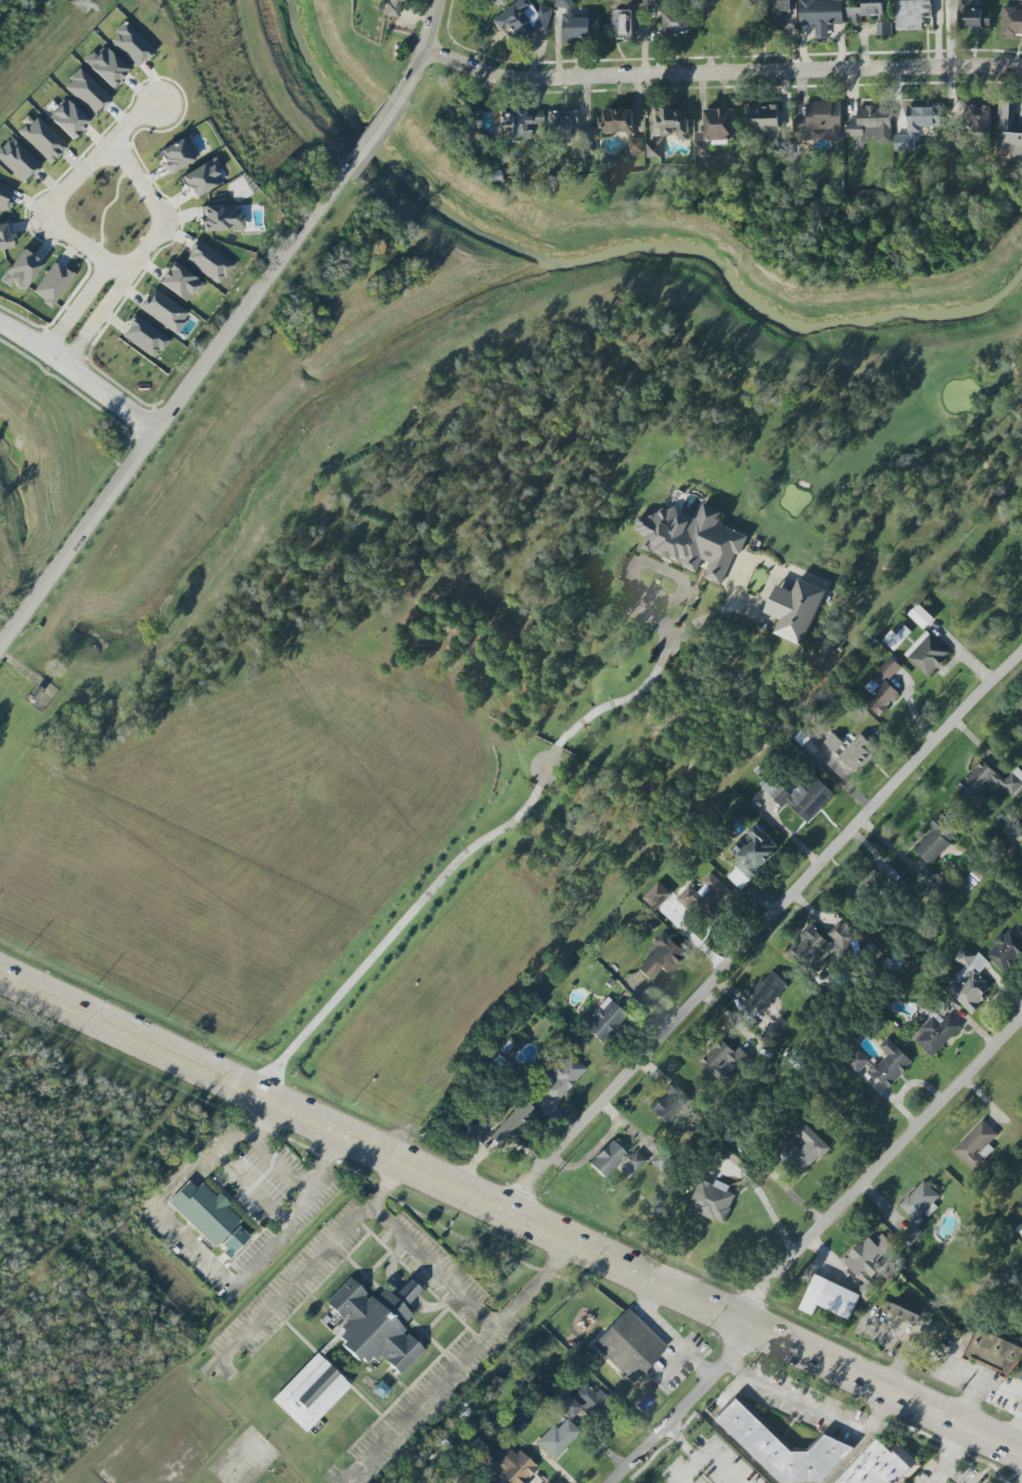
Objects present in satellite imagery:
building: (495, 2)
building: (659, 2)
building: (393, 8)
power tower: (83, 9)
building: (866, 11)
building: (778, 13)
building: (913, 14)
building: (821, 15)
building: (973, 16)
building: (522, 20)
building: (629, 21)
building: (1012, 22)
building: (677, 23)
building: (577, 24)
building: (885, 29)
building: (131, 44)
building: (107, 66)
road: (720, 73)
building: (87, 92)
building: (979, 116)
building: (68, 119)
building: (522, 121)
building: (617, 121)
building: (820, 122)
building: (675, 123)
building: (768, 125)
building: (872, 125)
building: (919, 126)
building: (568, 130)
building: (715, 130)
building: (1008, 130)
building: (42, 139)
building: (636, 146)
building: (653, 147)
building: (177, 155)
road: (97, 158)
building: (18, 160)
building: (202, 178)
road: (139, 183)
building: (5, 196)
building: (220, 218)
road: (309, 225)
building: (5, 236)
road: (82, 247)
road: (146, 248)
river: (616, 250)
building: (208, 262)
building: (21, 270)
building: (180, 282)
building: (53, 284)
road: (76, 308)
building: (163, 310)
road: (98, 318)
building: (144, 337)
road: (80, 375)
building: (693, 540)
road: (78, 542)
building: (796, 610)
building: (922, 617)
building: (897, 636)
building: (927, 654)
building: (881, 689)
building: (42, 694)
building: (852, 751)
building: (987, 784)
building: (802, 798)
road: (486, 834)
building: (938, 839)
building: (752, 855)
building: (863, 887)
building: (705, 895)
building: (657, 896)
road: (760, 928)
building: (840, 936)
building: (812, 950)
building: (1007, 950)
building: (662, 957)
building: (970, 981)
building: (767, 992)
building: (604, 1019)
building: (779, 1031)
building: (935, 1033)
building: (723, 1061)
building: (882, 1064)
building: (562, 1075)
building: (671, 1103)
building: (514, 1123)
building: (977, 1146)
building: (805, 1149)
building: (608, 1159)
building: (662, 1161)
building: (637, 1162)
road: (883, 1173)
road: (183, 1176)
road: (384, 1184)
road: (259, 1191)
building: (712, 1201)
building: (921, 1203)
road: (768, 1210)
building: (203, 1212)
road: (510, 1214)
road: (358, 1220)
building: (1020, 1232)
building: (912, 1234)
building: (233, 1241)
building: (868, 1263)
road: (222, 1275)
building: (829, 1299)
building: (904, 1308)
building: (375, 1324)
road: (666, 1336)
road: (909, 1344)
building: (629, 1346)
building: (993, 1352)
road: (461, 1363)
road: (745, 1375)
road: (974, 1378)
building: (1020, 1381)
road: (1003, 1392)
building: (311, 1393)
building: (587, 1397)
building: (568, 1406)
road: (691, 1406)
road: (834, 1418)
building: (518, 1423)
road: (1015, 1430)
building: (557, 1439)
road: (684, 1447)
building: (783, 1448)
road: (707, 1455)
road: (948, 1456)
building: (882, 1465)
building: (516, 1467)
road: (936, 1475)

